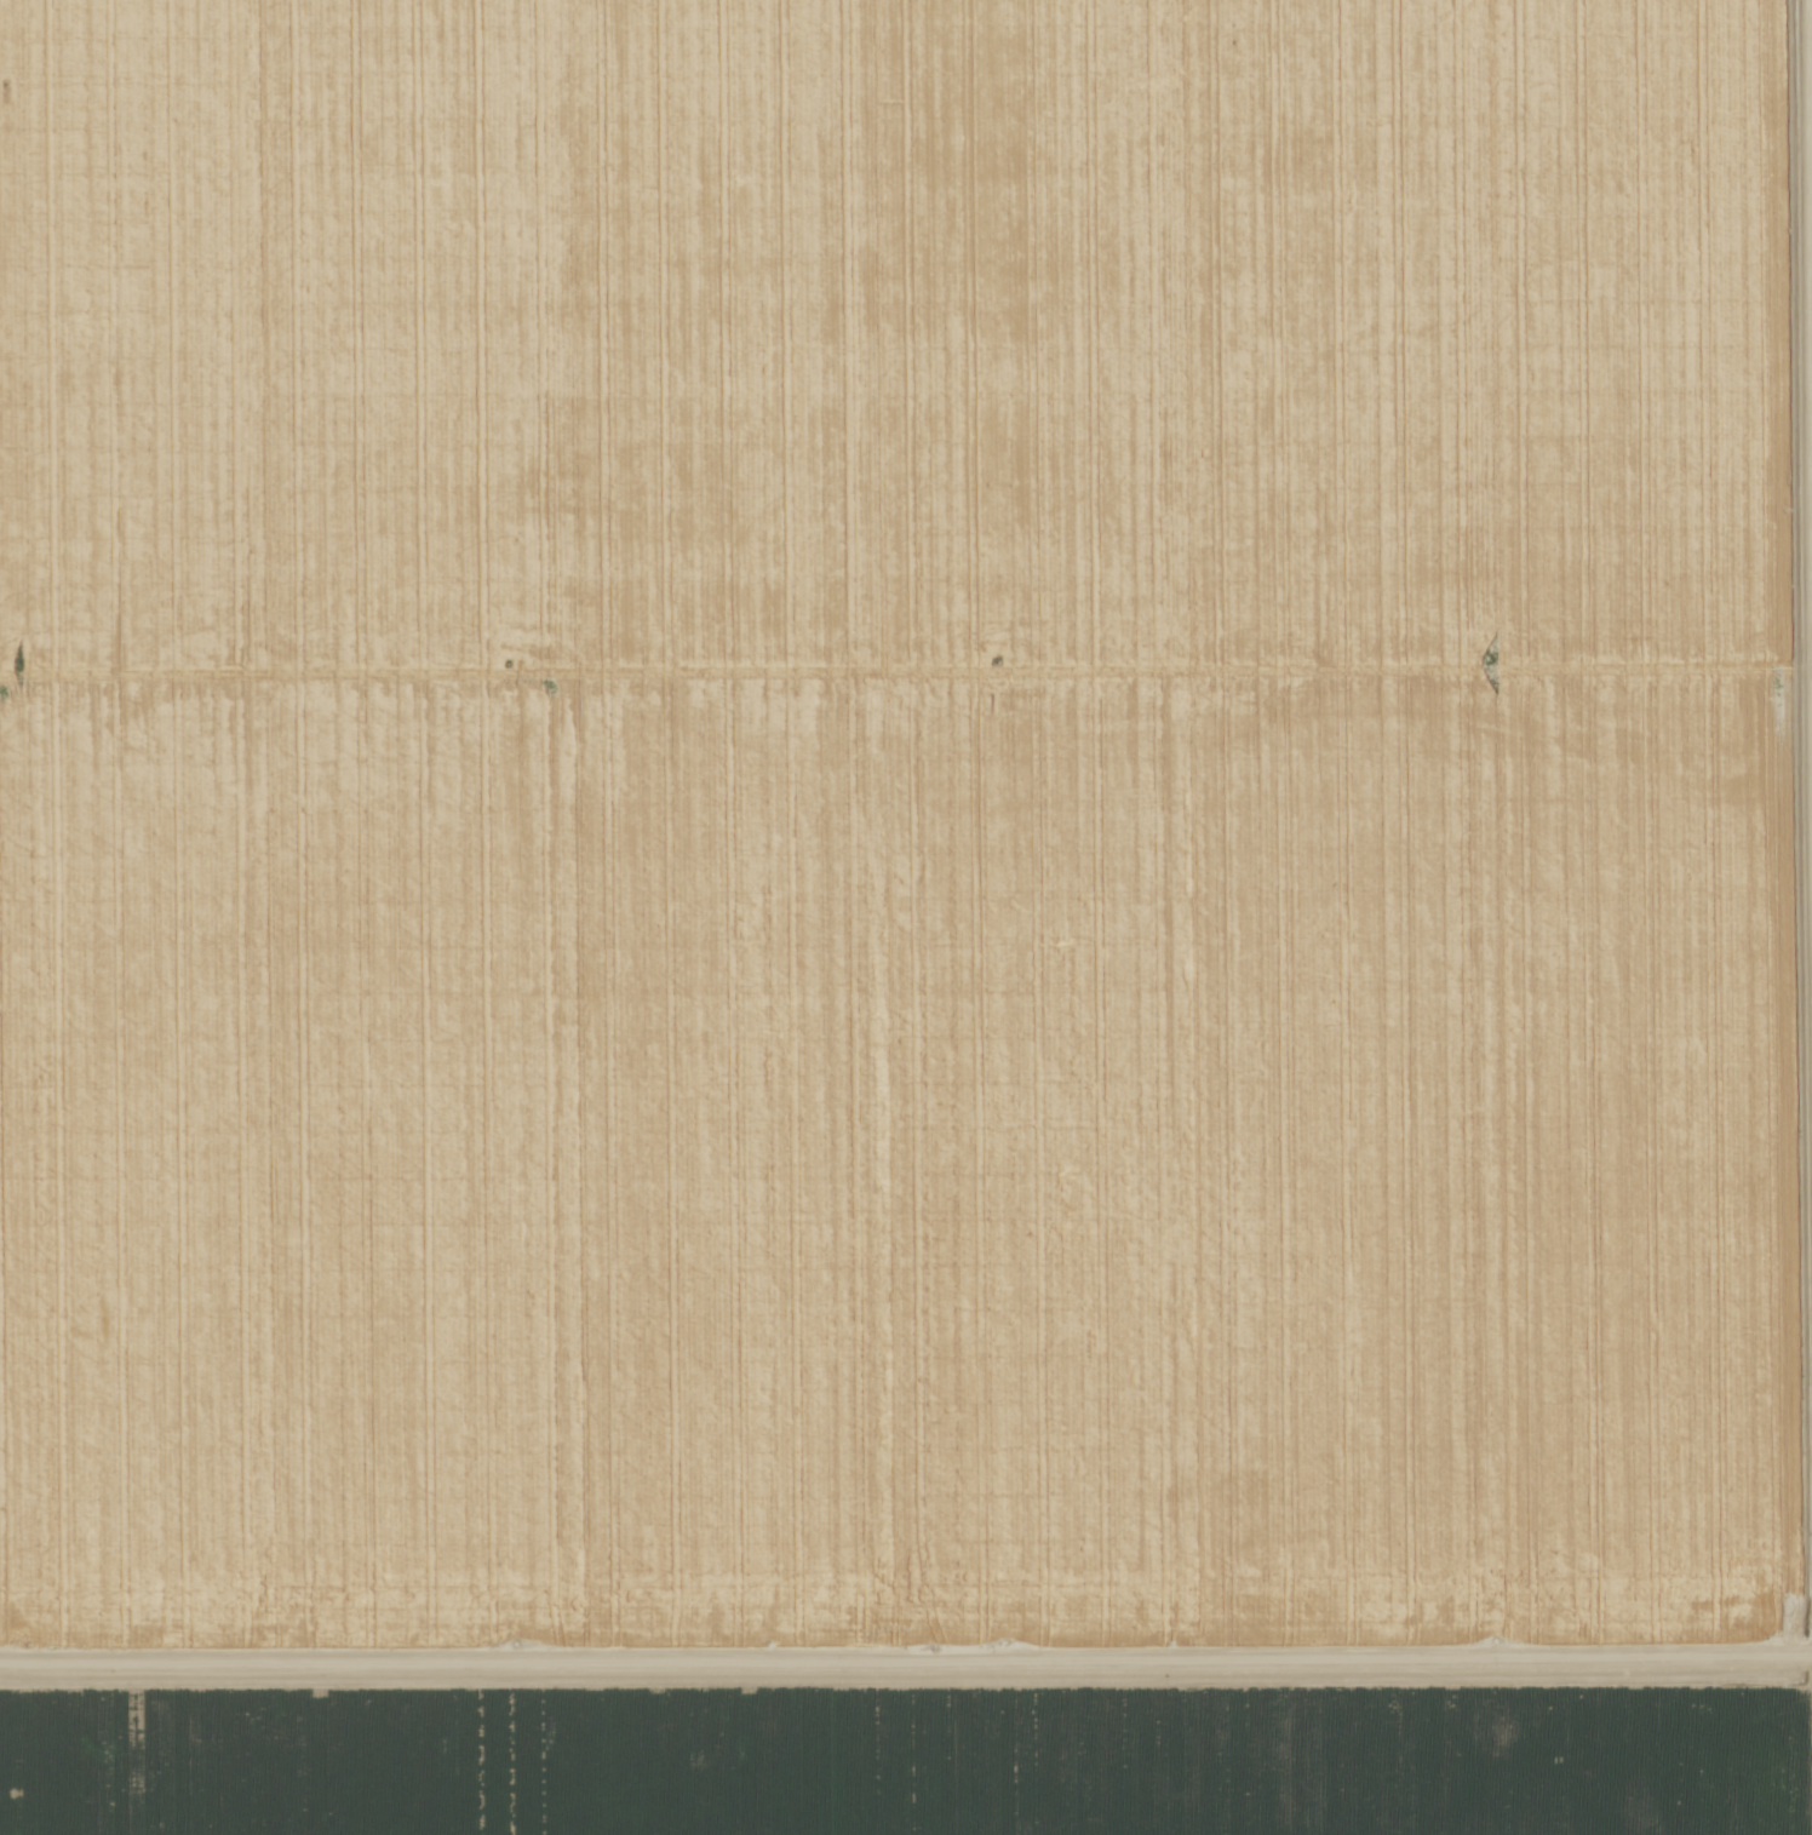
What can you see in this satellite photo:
crop: (906, 917)

